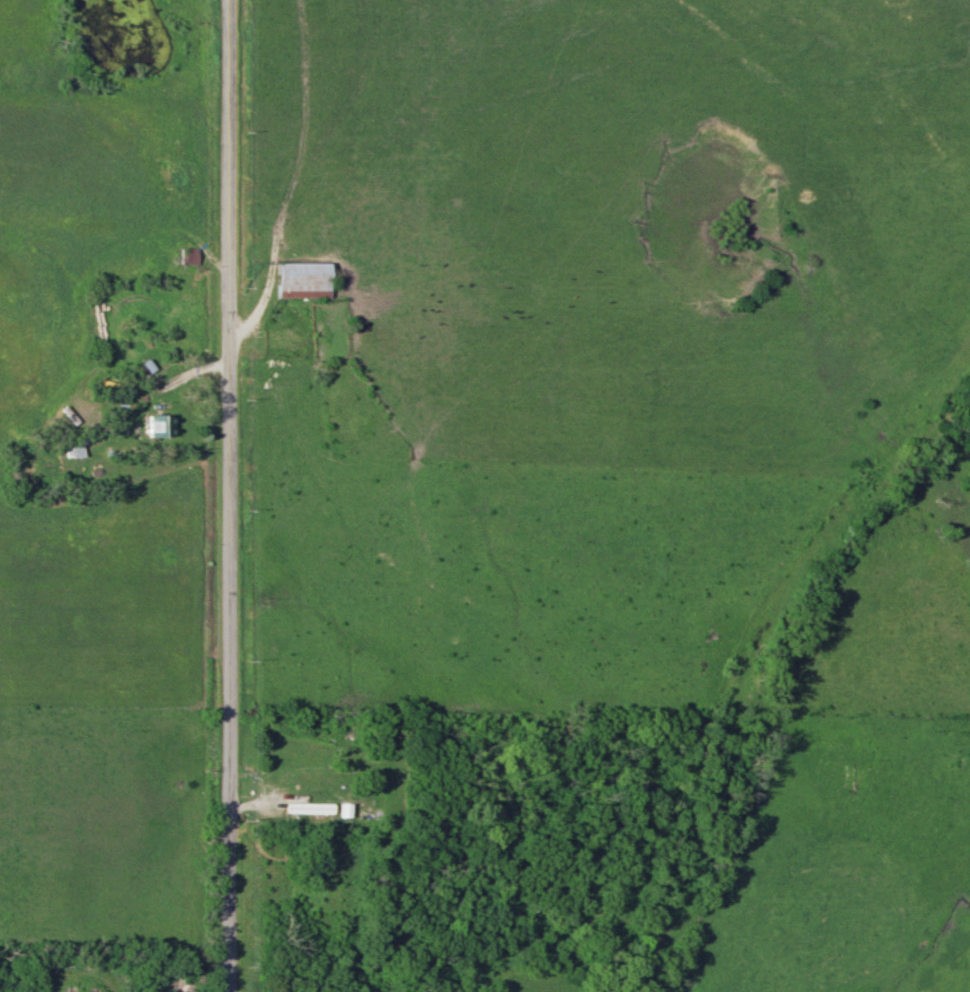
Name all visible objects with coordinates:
building: (190, 257)
building: (302, 278)
building: (159, 425)
road: (228, 496)

